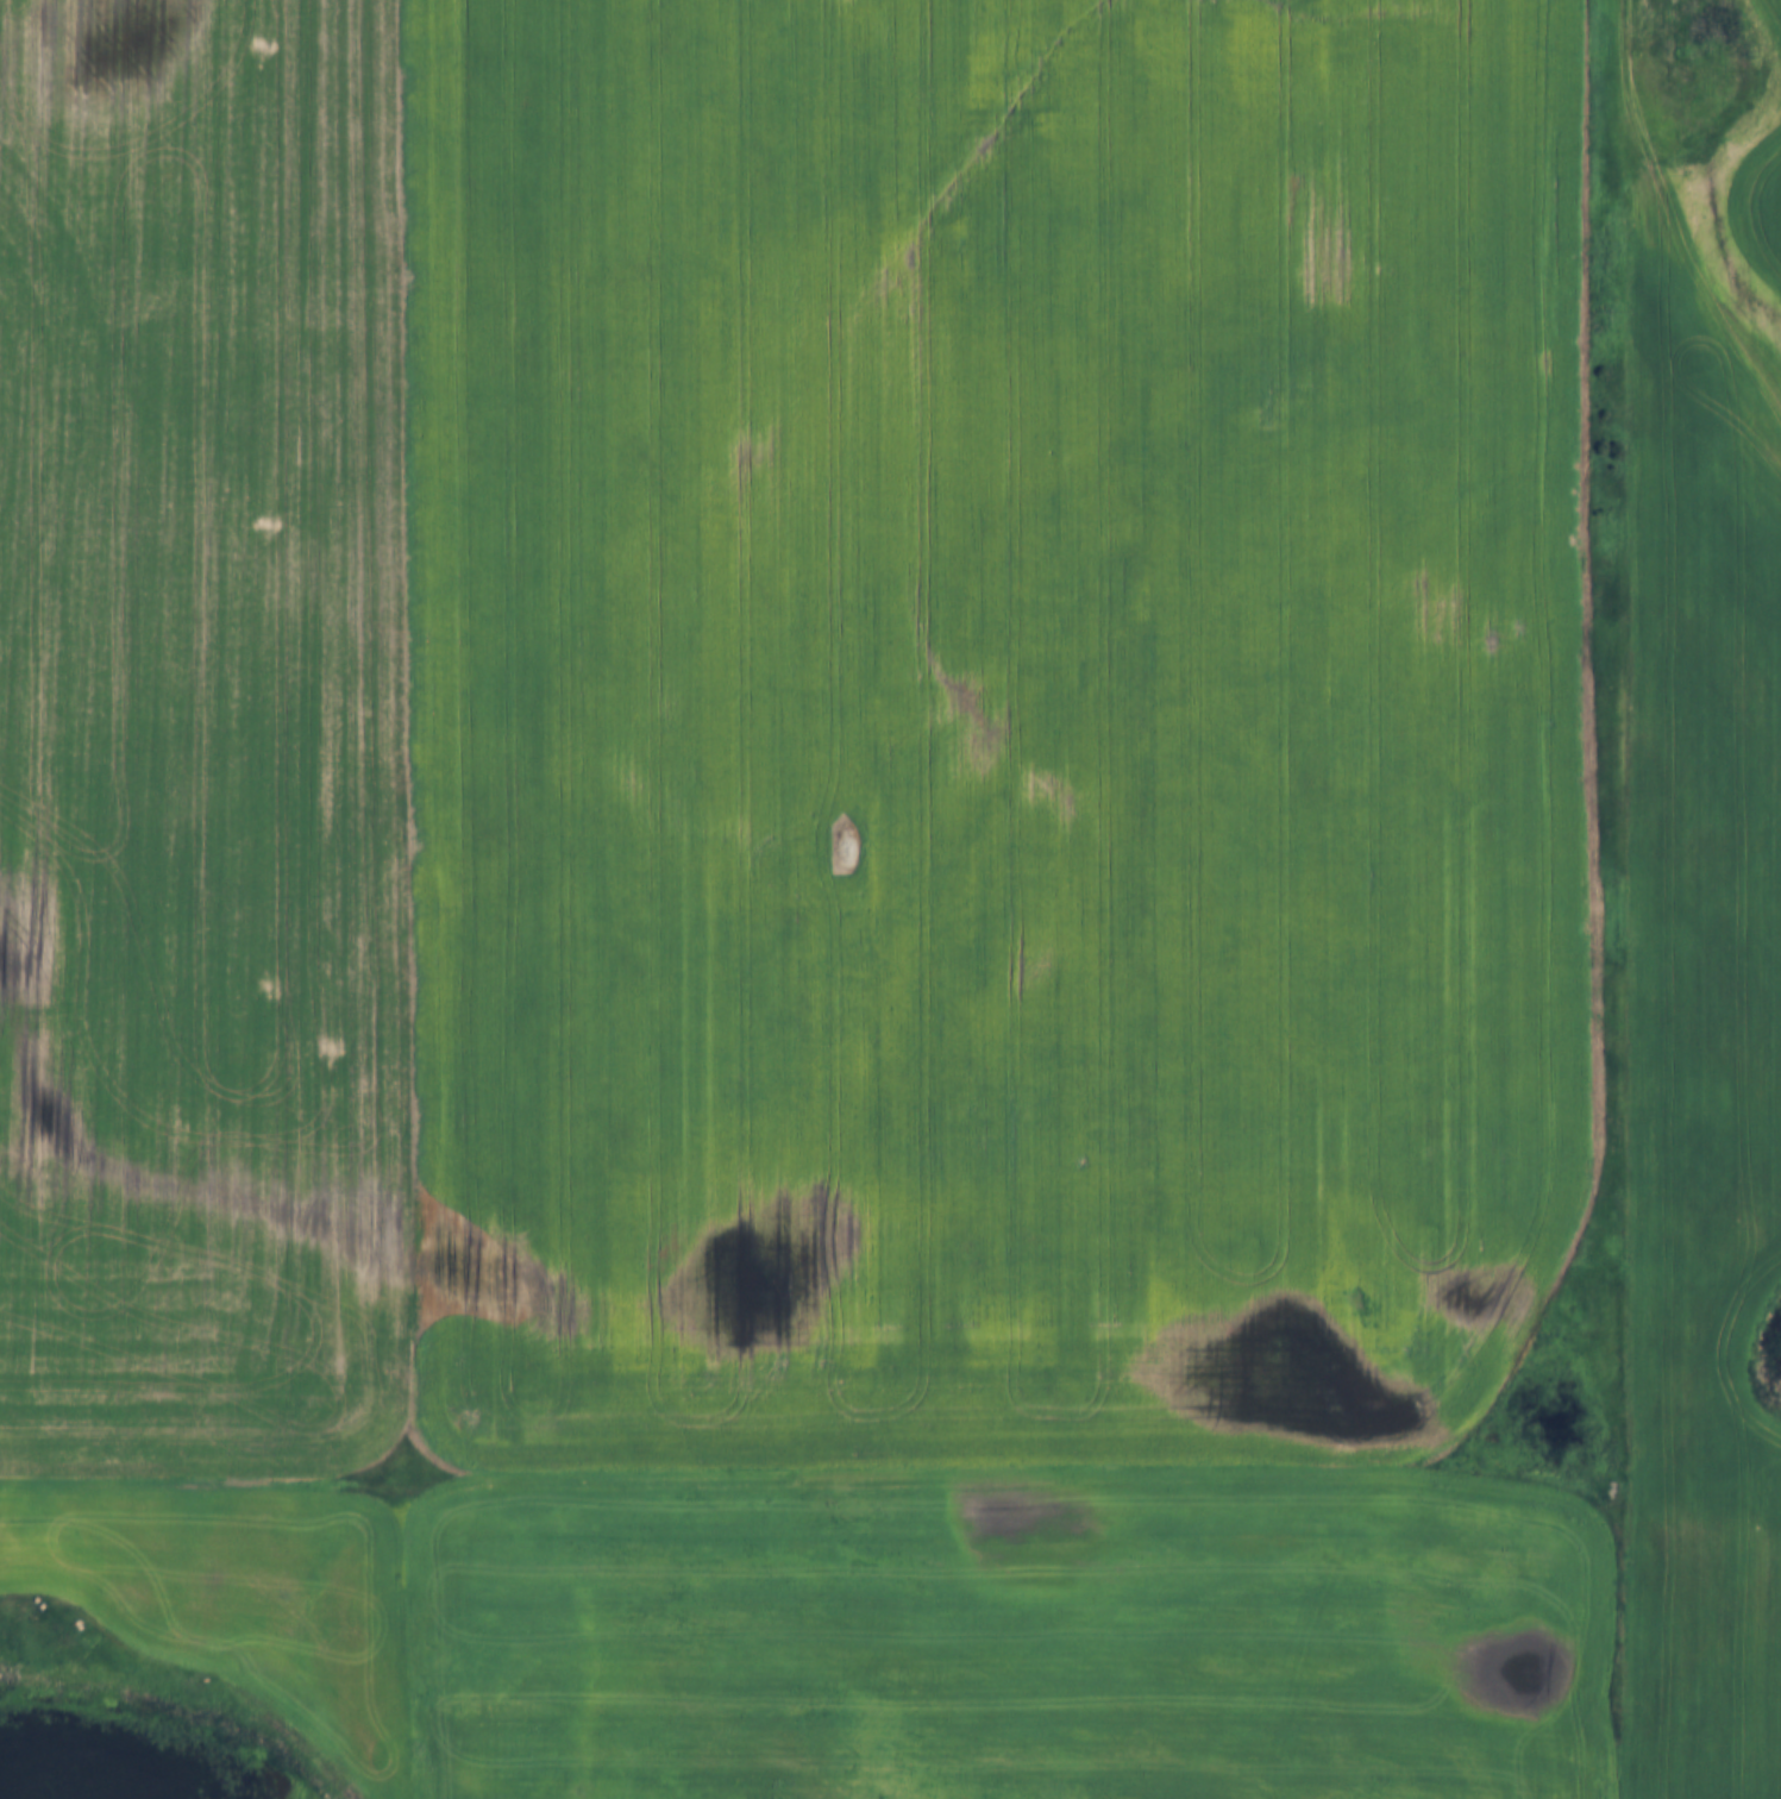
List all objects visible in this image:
road: (203, 1474)

